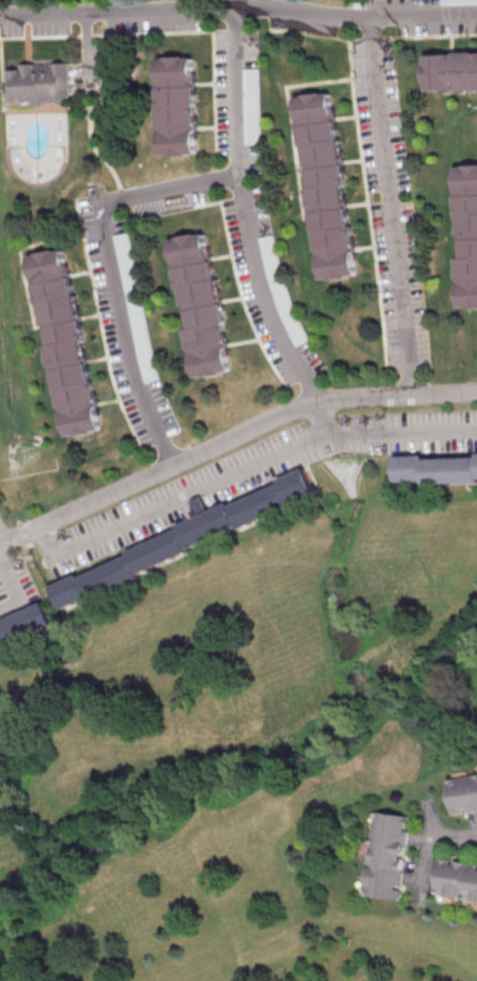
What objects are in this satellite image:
building: (458, 1)
road: (238, 9)
building: (451, 71)
building: (44, 87)
building: (252, 87)
road: (240, 93)
building: (178, 105)
building: (325, 184)
road: (156, 195)
road: (395, 210)
building: (467, 233)
building: (201, 304)
building: (64, 343)
road: (326, 422)
road: (231, 441)
building: (434, 469)
road: (243, 475)
road: (4, 536)
building: (178, 541)
park: (459, 556)
road: (16, 590)
building: (24, 625)
road: (56, 670)
building: (463, 793)
road: (132, 821)
road: (429, 849)
building: (386, 854)
building: (456, 879)

